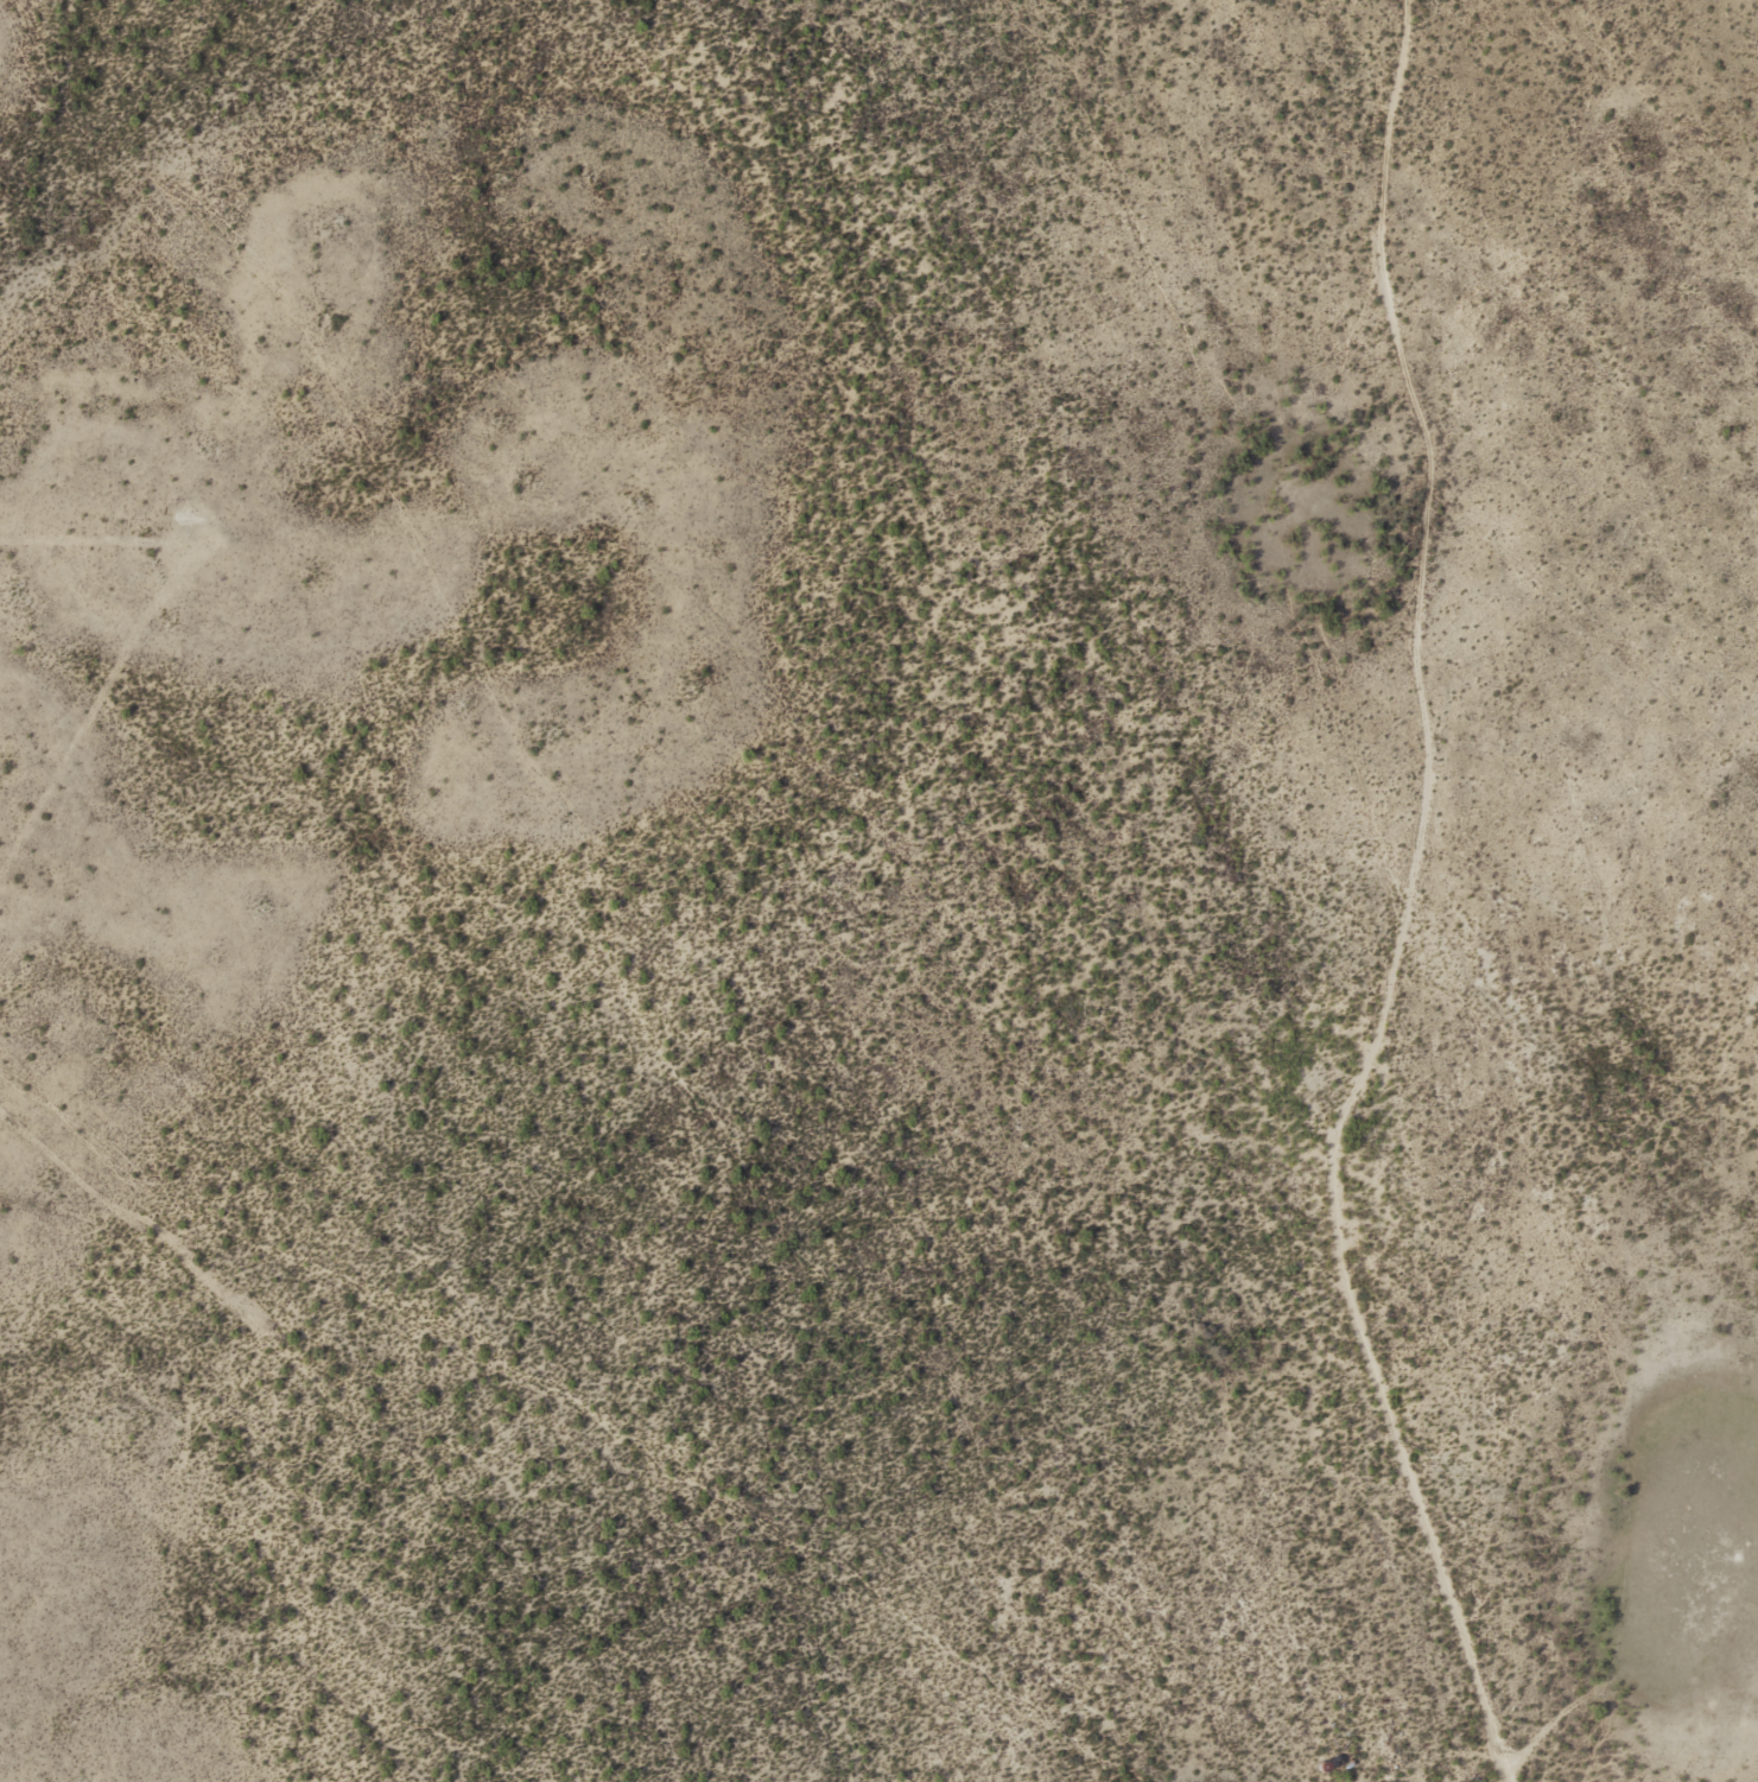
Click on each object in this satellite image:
road: (1433, 1515)

